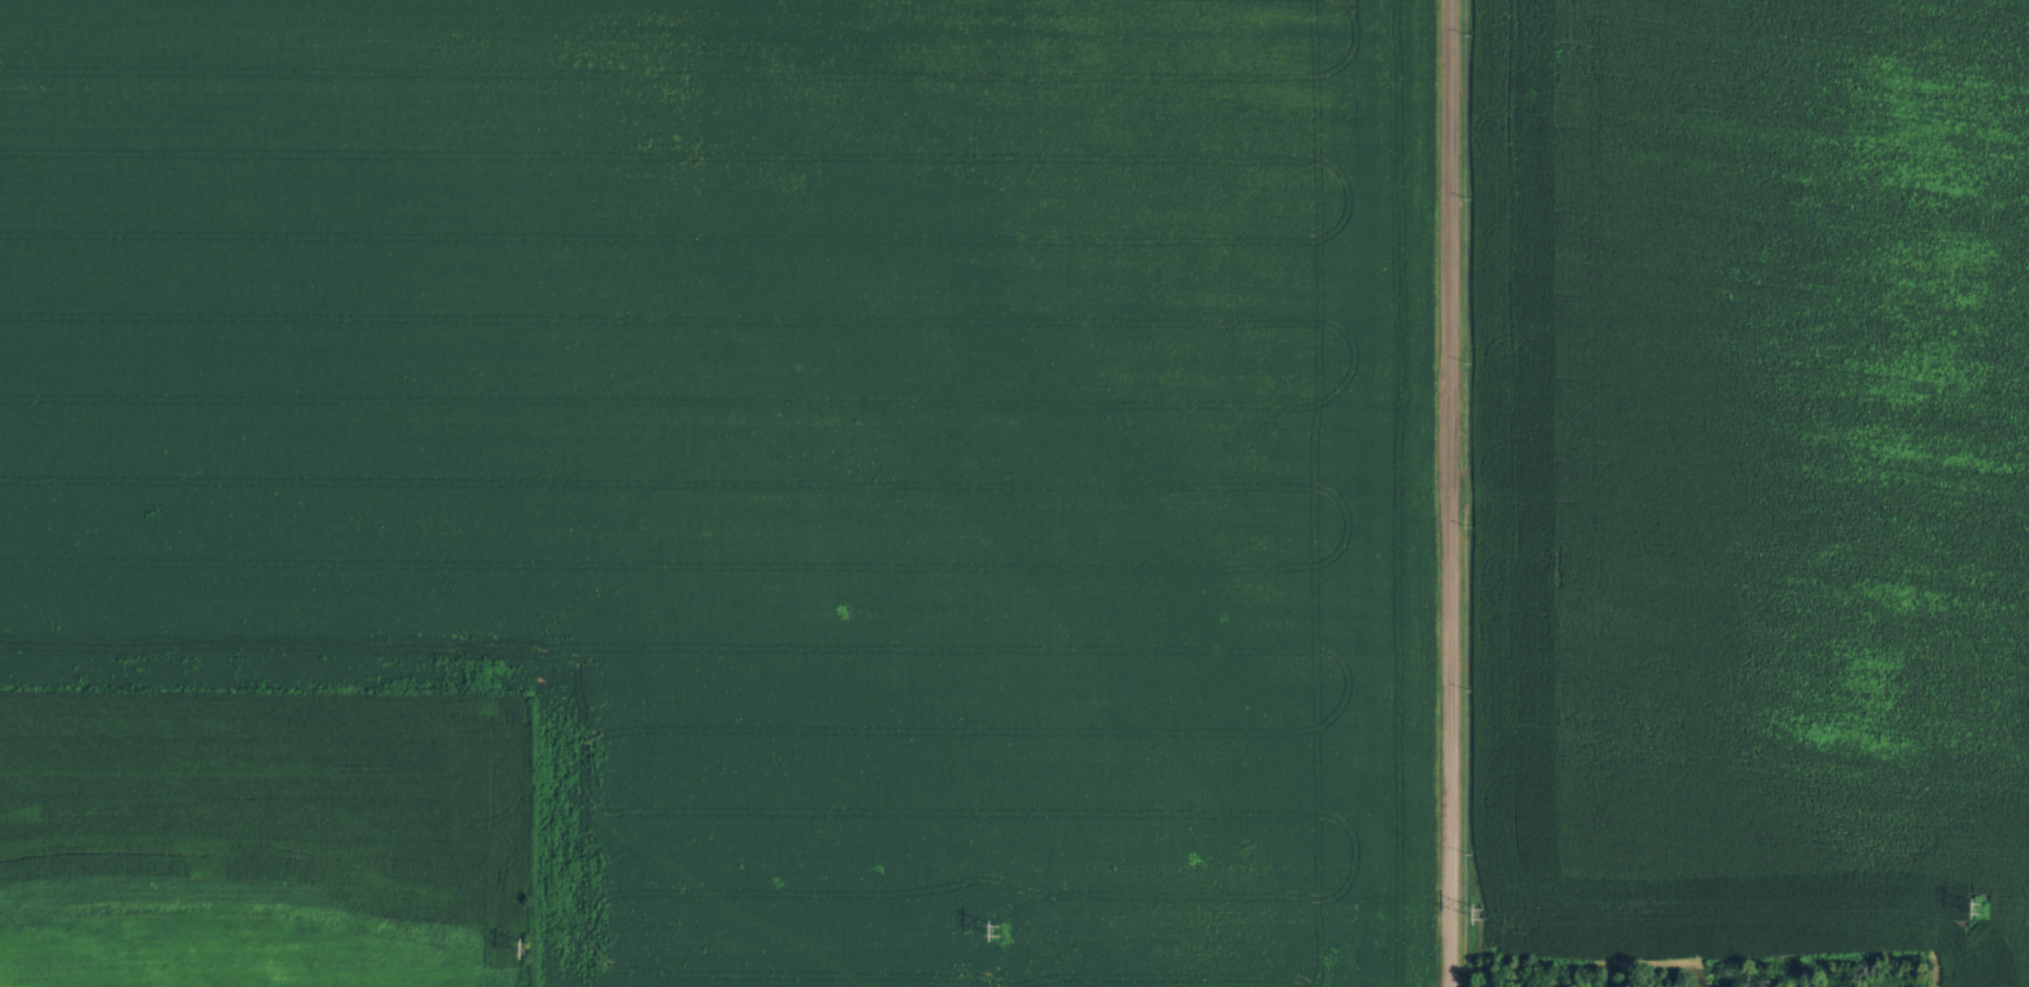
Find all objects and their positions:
road: (1446, 493)
power tower: (1977, 906)
power tower: (1478, 910)
power tower: (993, 926)
power tower: (528, 945)

